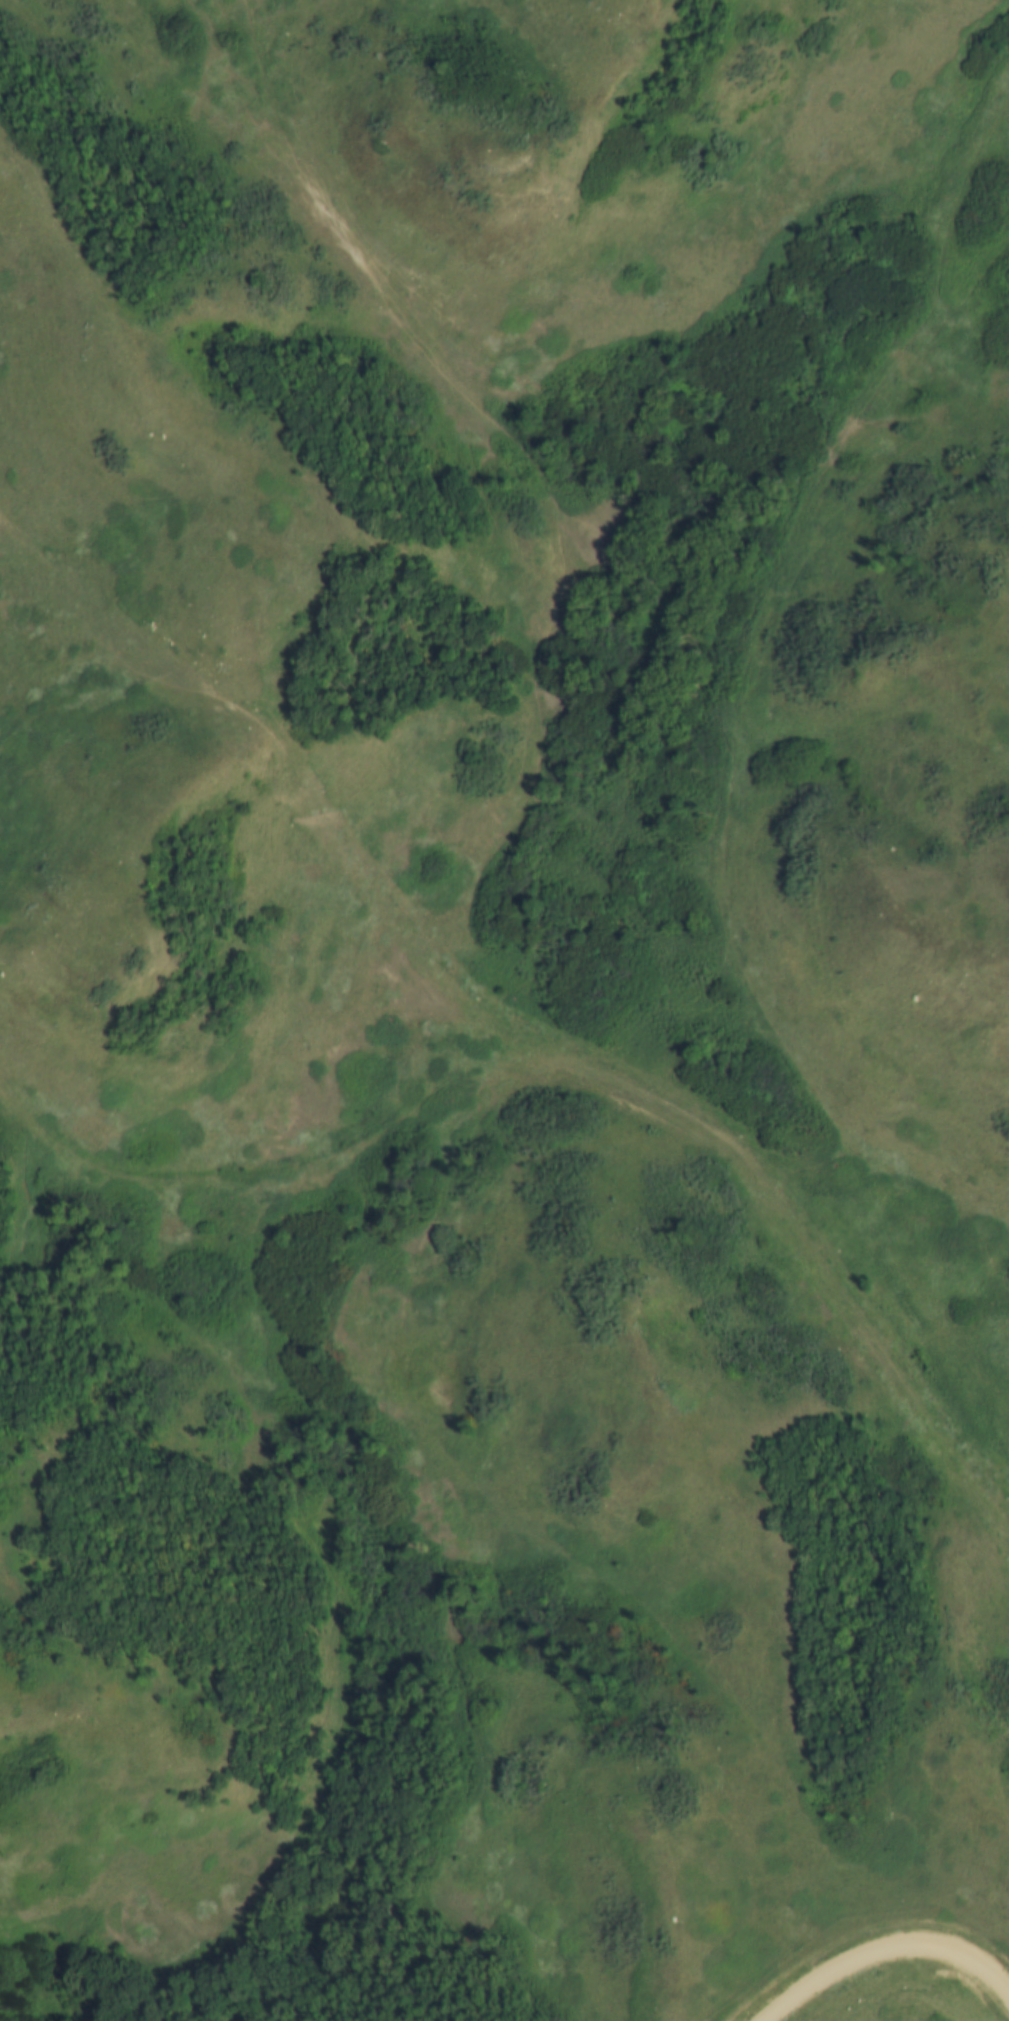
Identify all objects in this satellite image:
road: (882, 1937)

